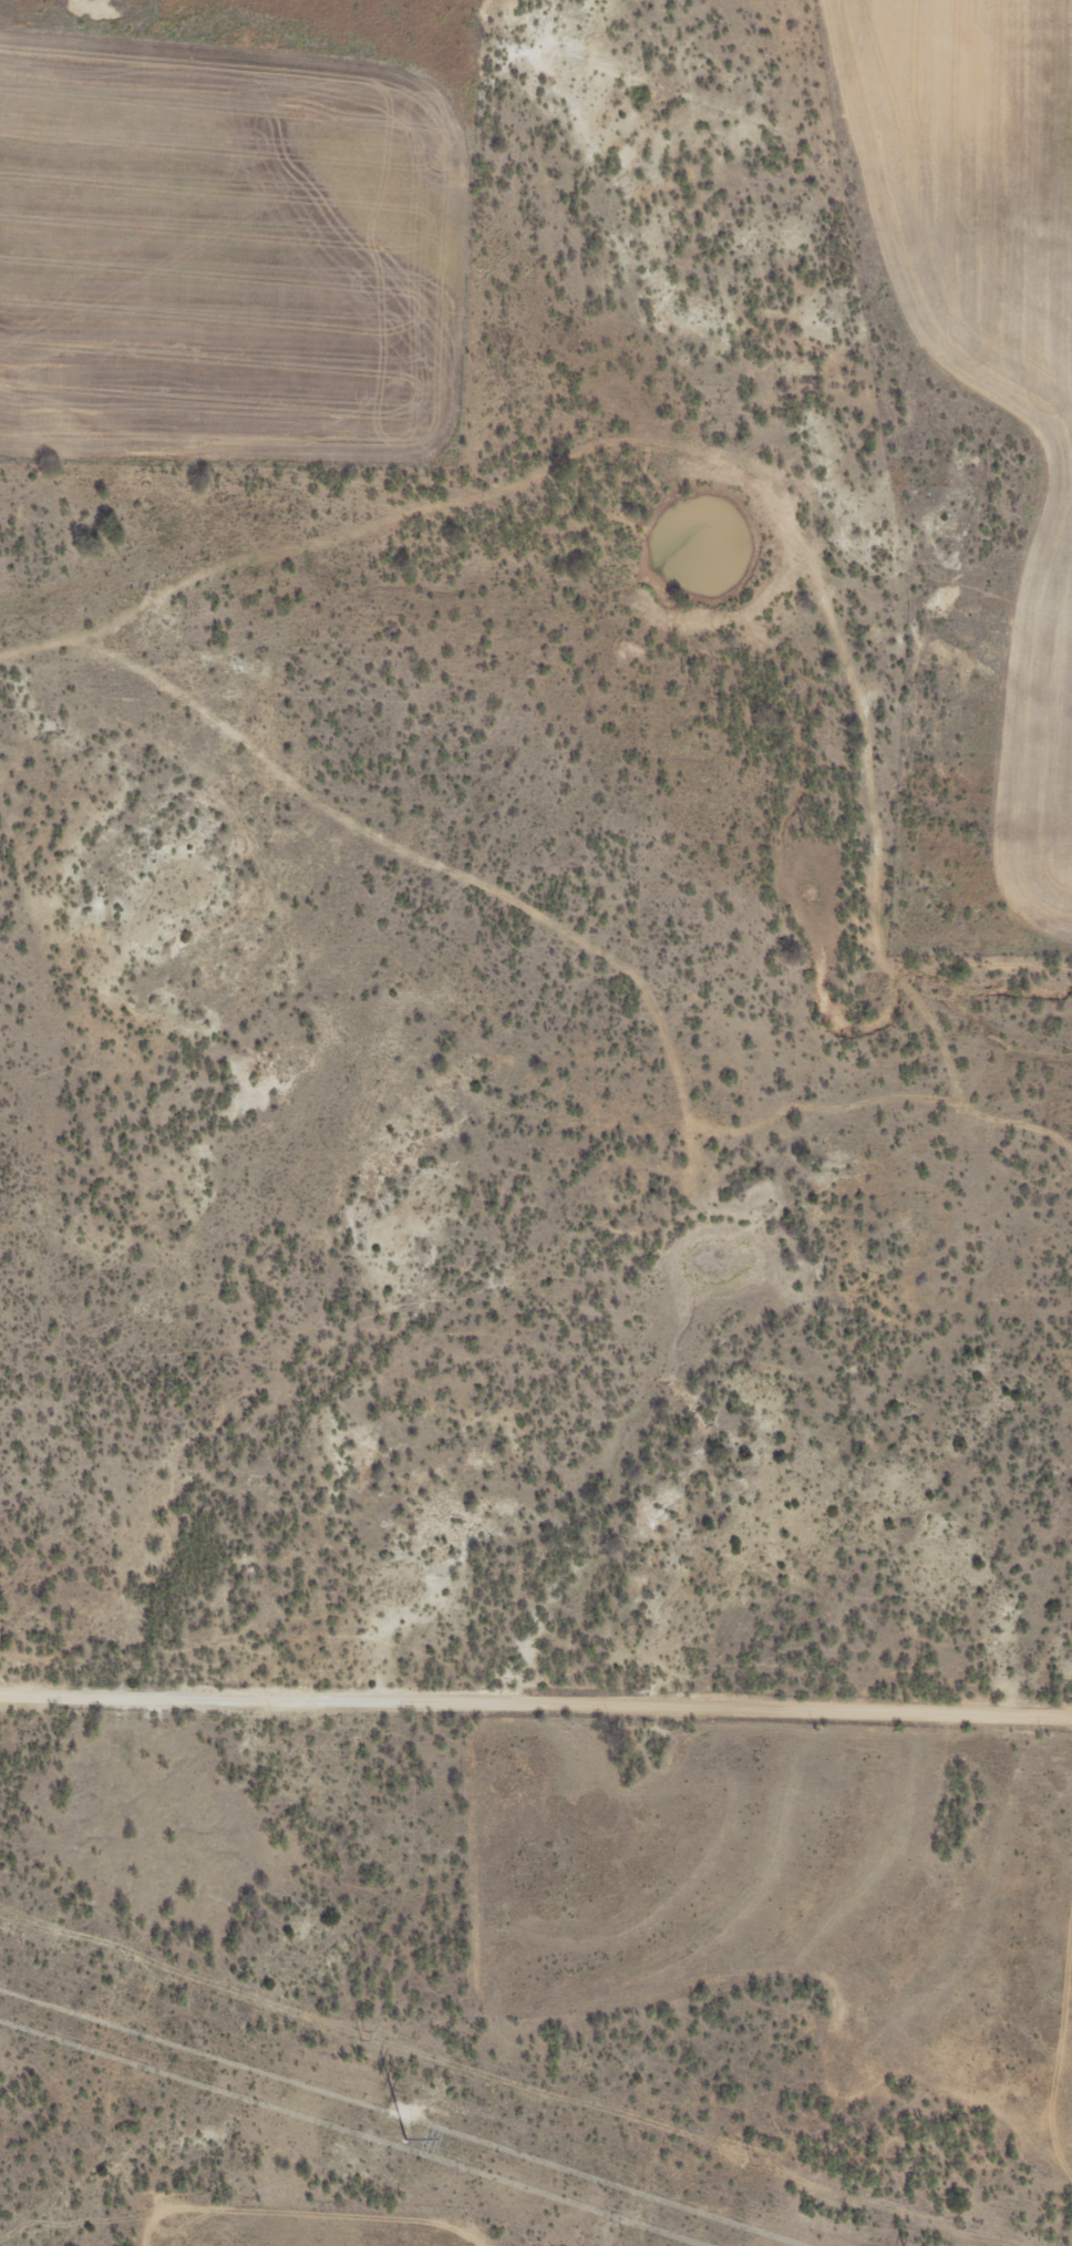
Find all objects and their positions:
road: (536, 1699)
power tower: (362, 2034)
power tower: (405, 2137)
power tower: (754, 2161)

